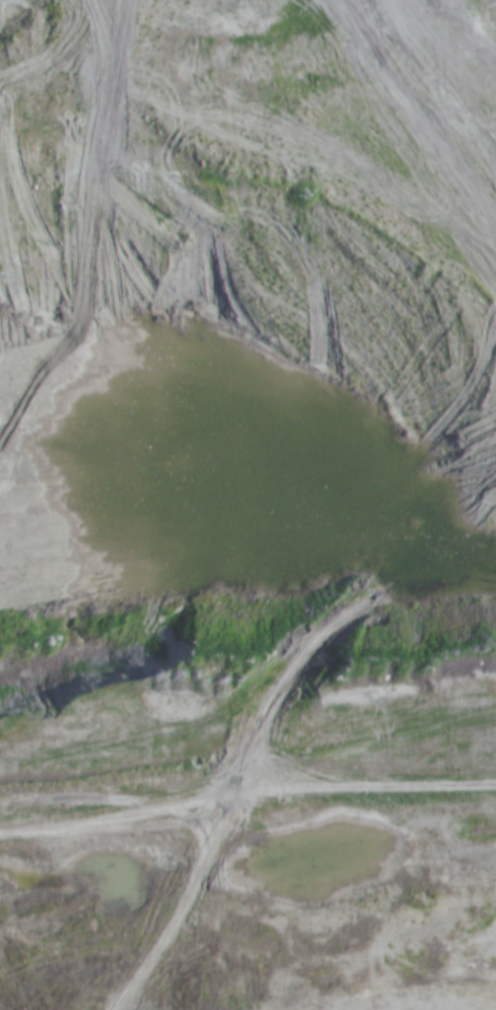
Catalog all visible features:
quarry: (246, 235)

